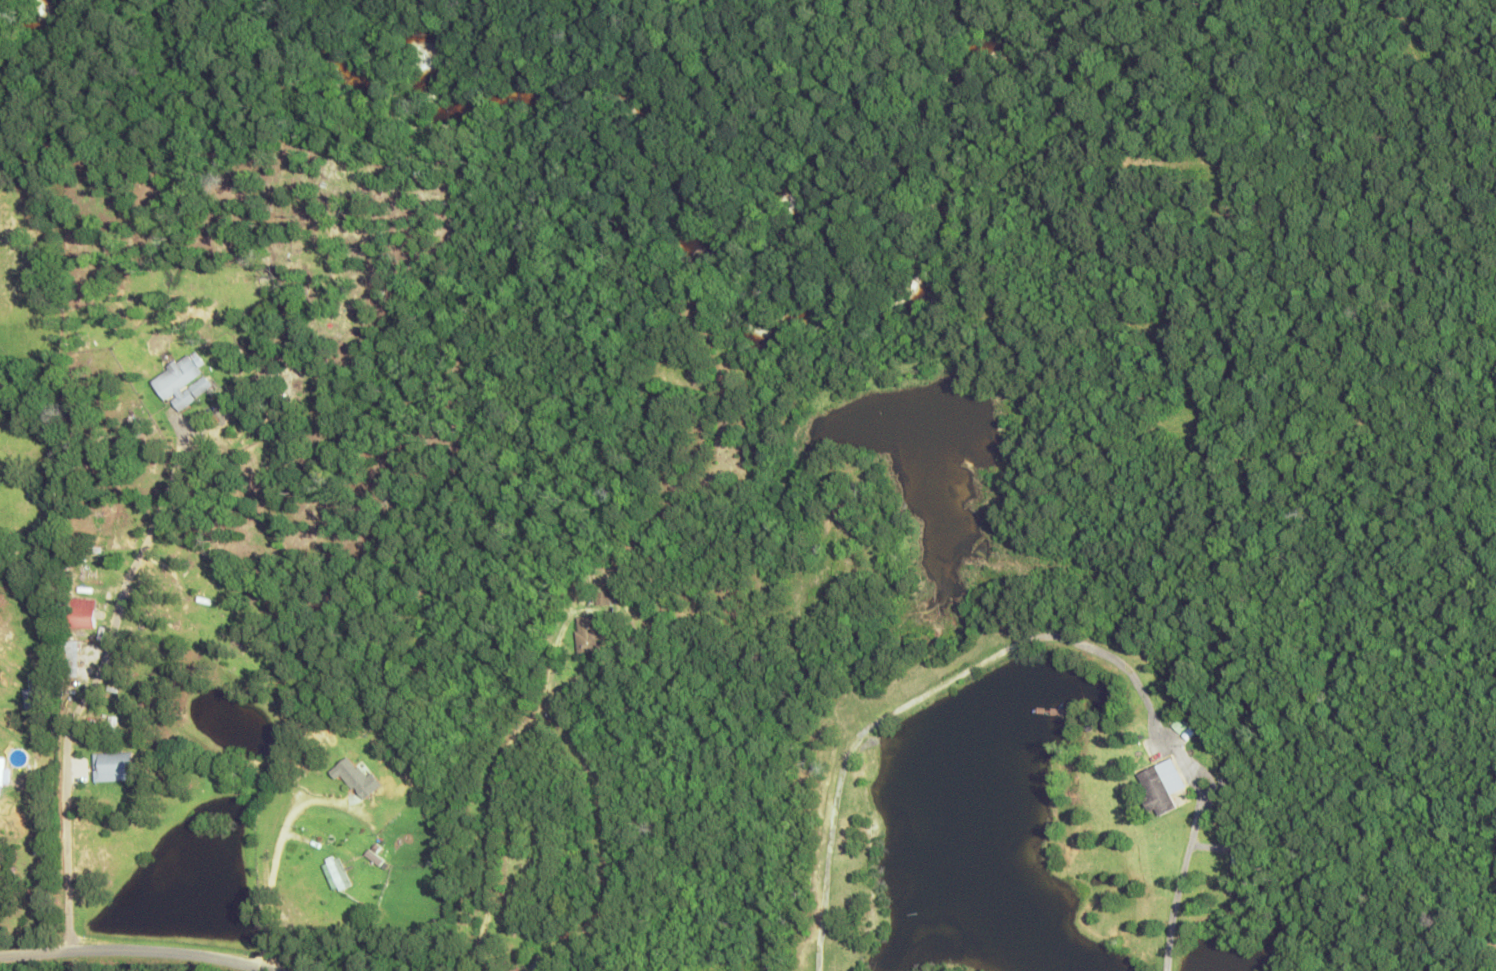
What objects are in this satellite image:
river: (730, 272)
building: (176, 377)
building: (202, 382)
building: (604, 597)
building: (227, 603)
building: (80, 612)
building: (589, 636)
building: (33, 692)
building: (112, 765)
building: (3, 774)
building: (355, 777)
building: (1161, 786)
road: (79, 827)
road: (235, 844)
building: (335, 873)
road: (156, 950)
road: (238, 959)
road: (189, 960)
road: (31, 963)

